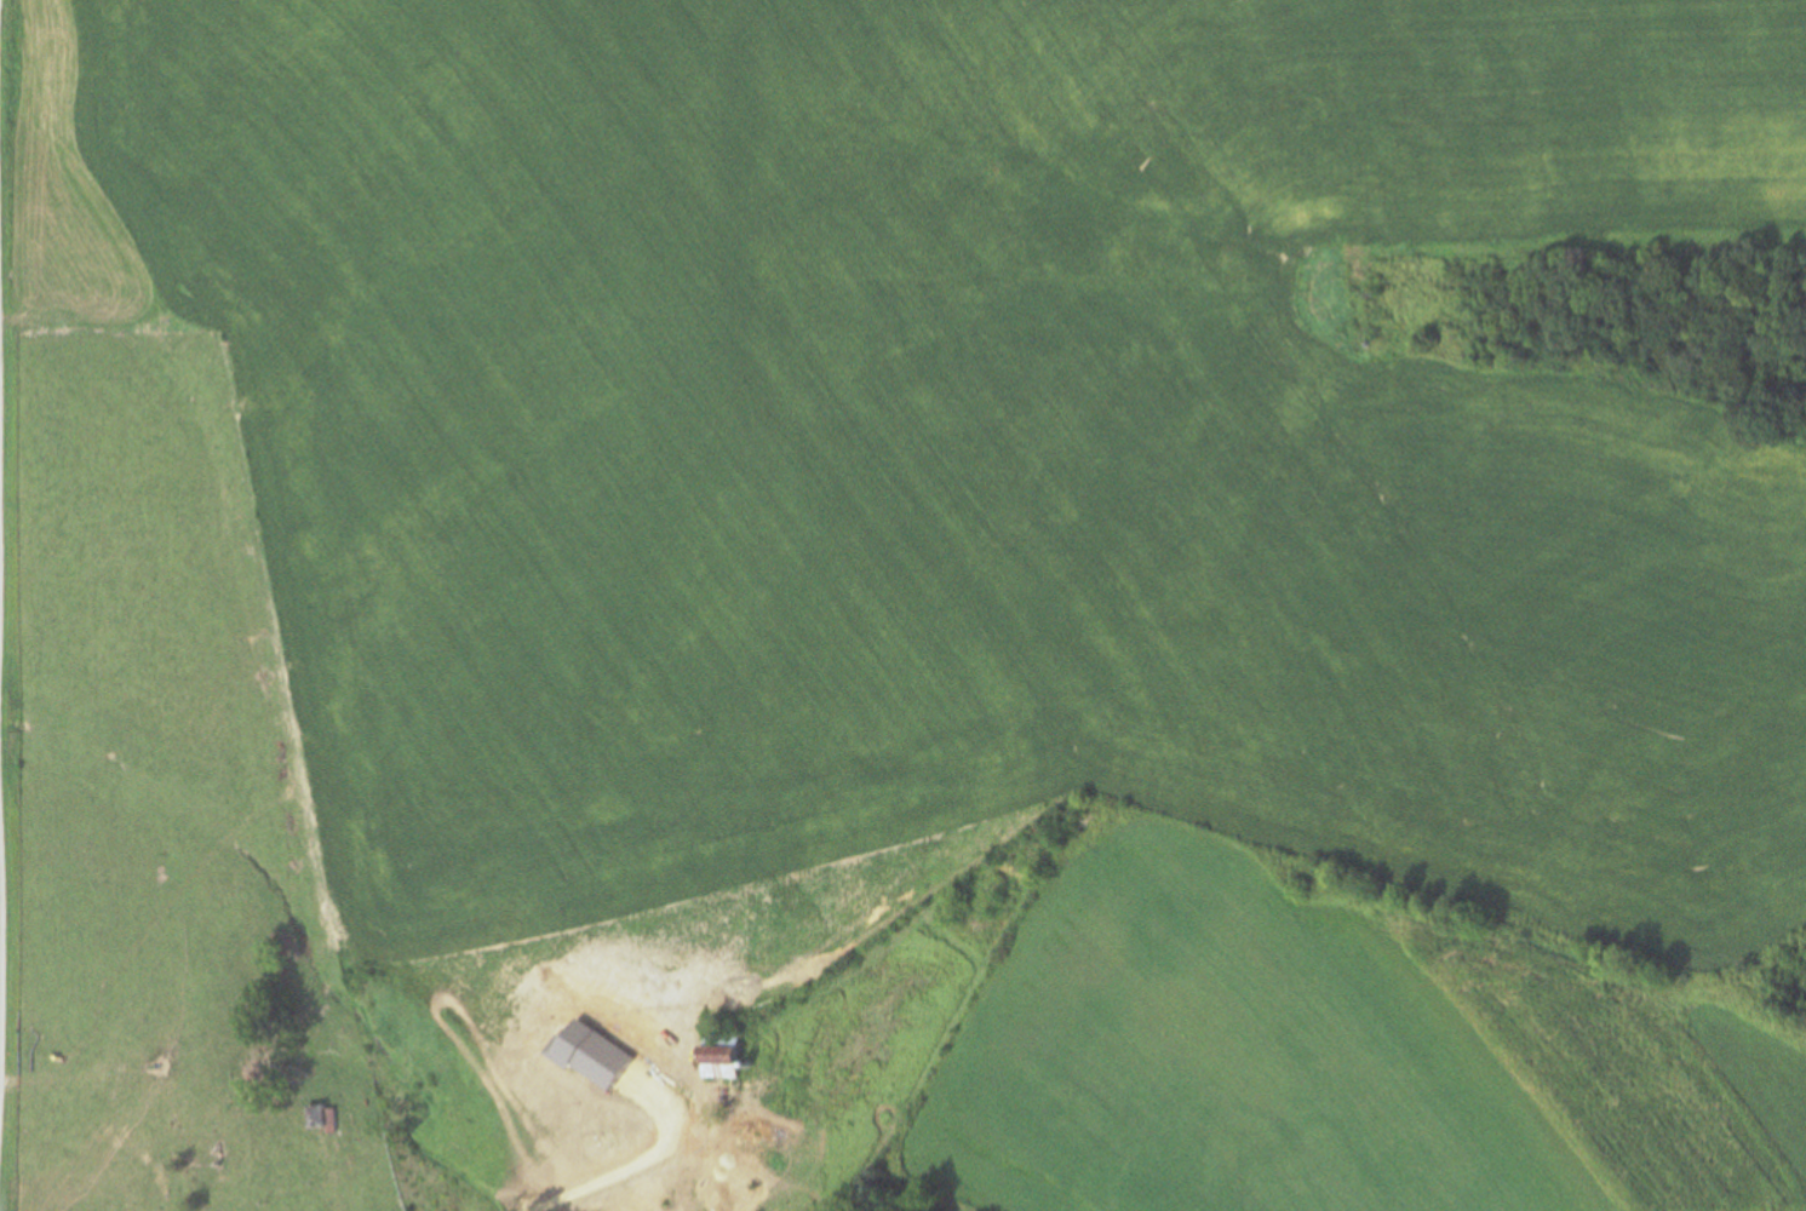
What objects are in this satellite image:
building: (736, 1056)
building: (715, 1061)
building: (666, 1114)
building: (313, 1117)
building: (529, 1194)

